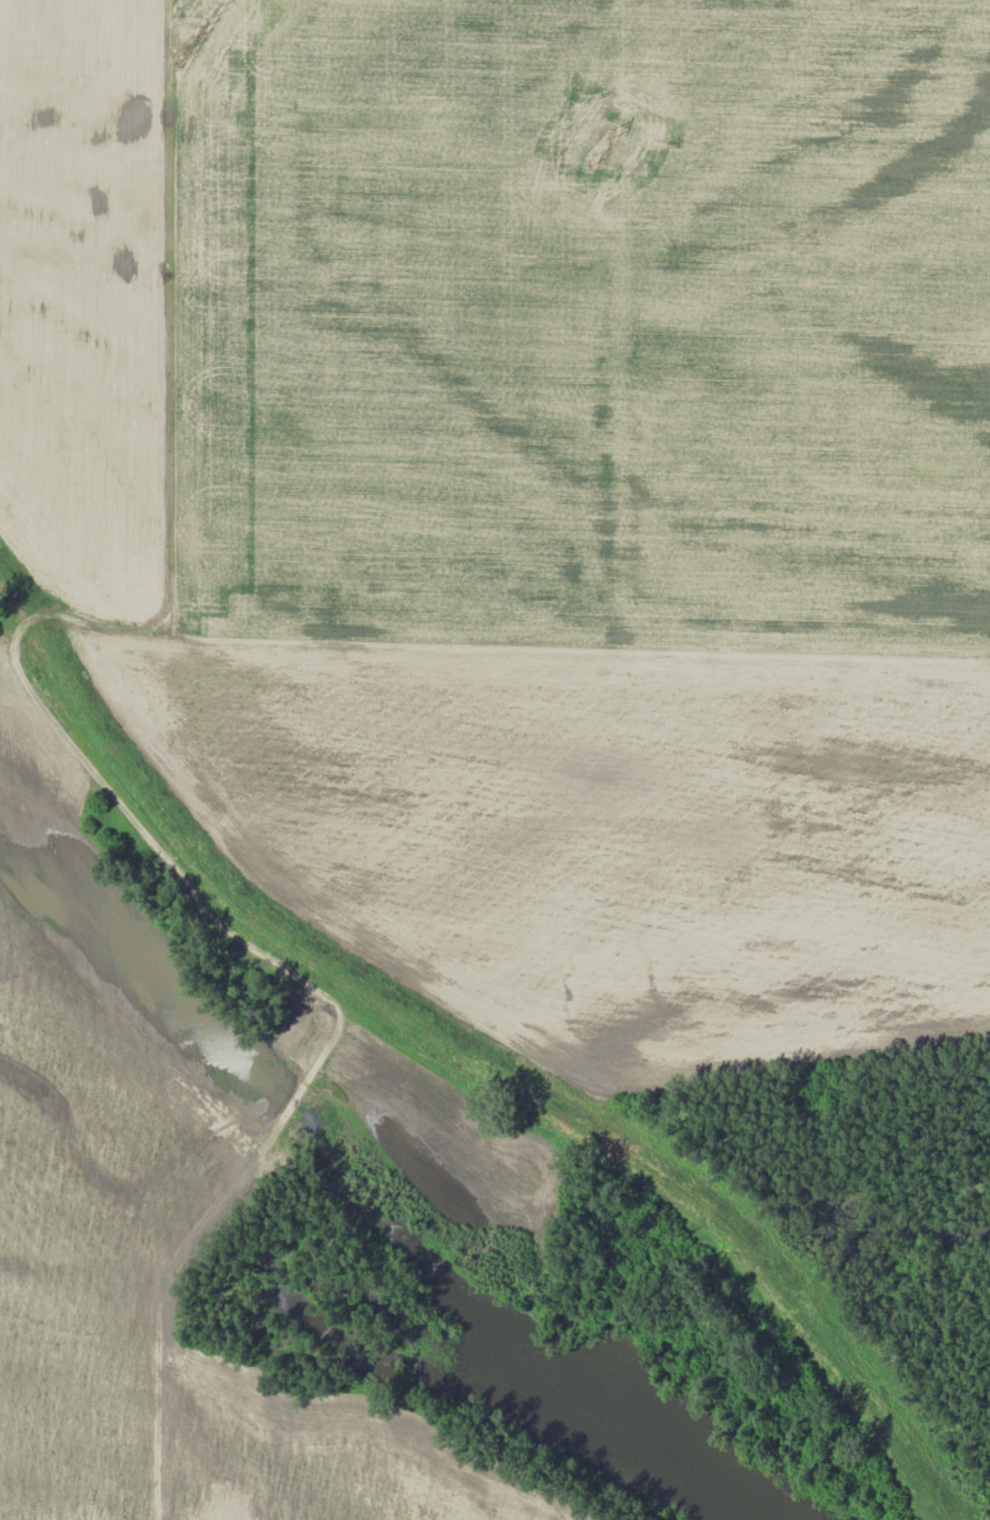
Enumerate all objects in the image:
power tower: (216, 3)
power tower: (612, 132)
crop: (82, 300)
crop: (594, 515)
crop: (147, 1275)

